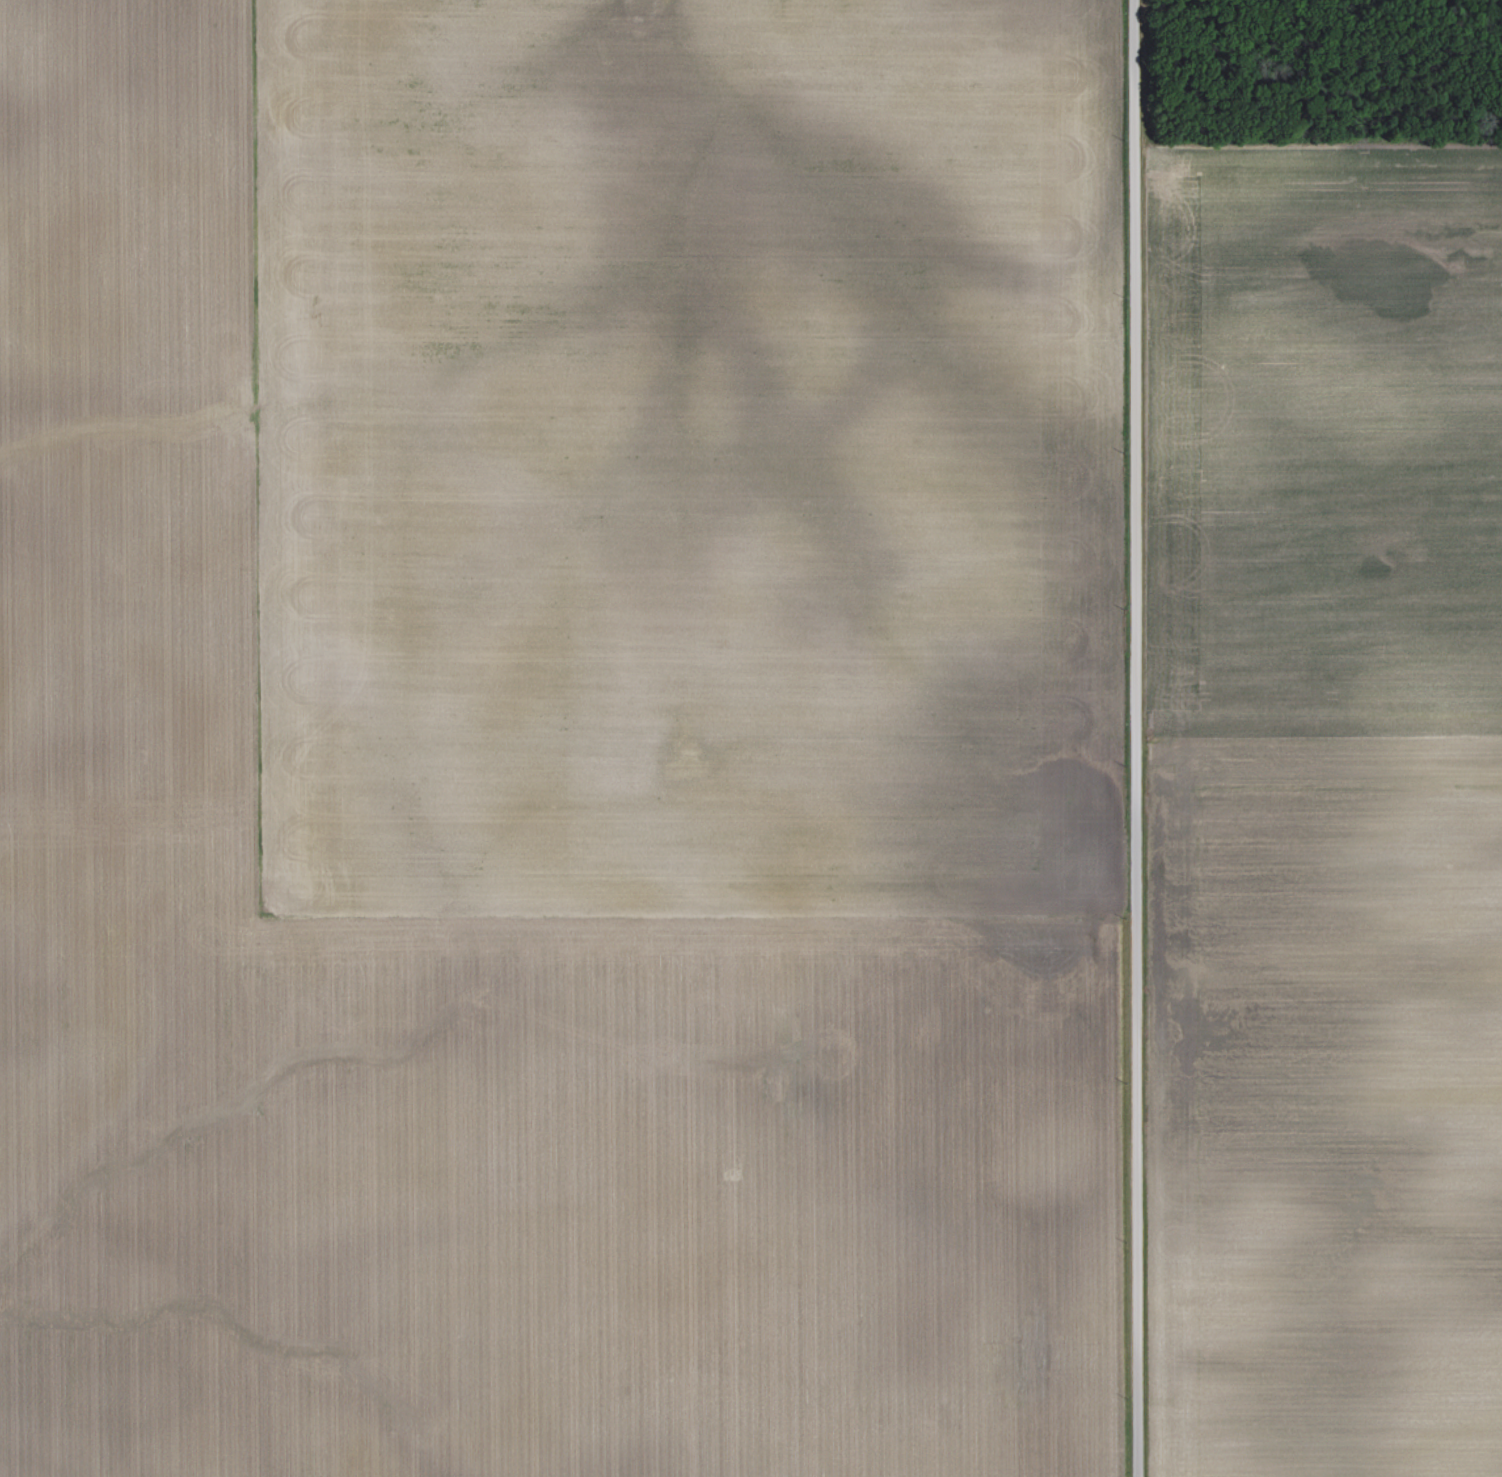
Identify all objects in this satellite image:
road: (1133, 738)

